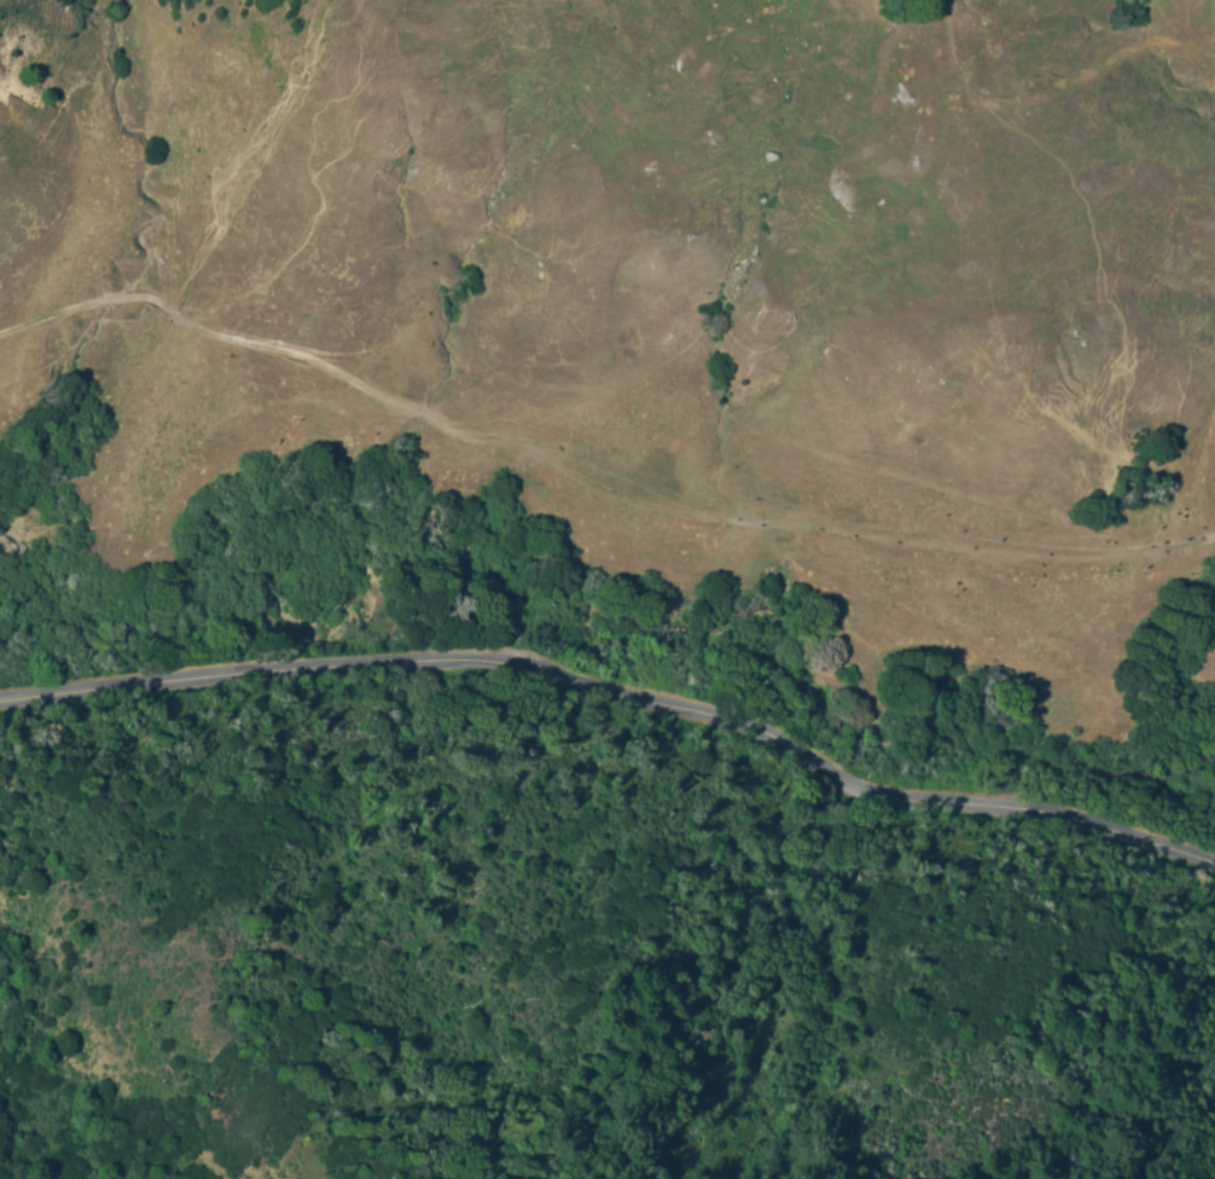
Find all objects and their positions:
road: (620, 683)

